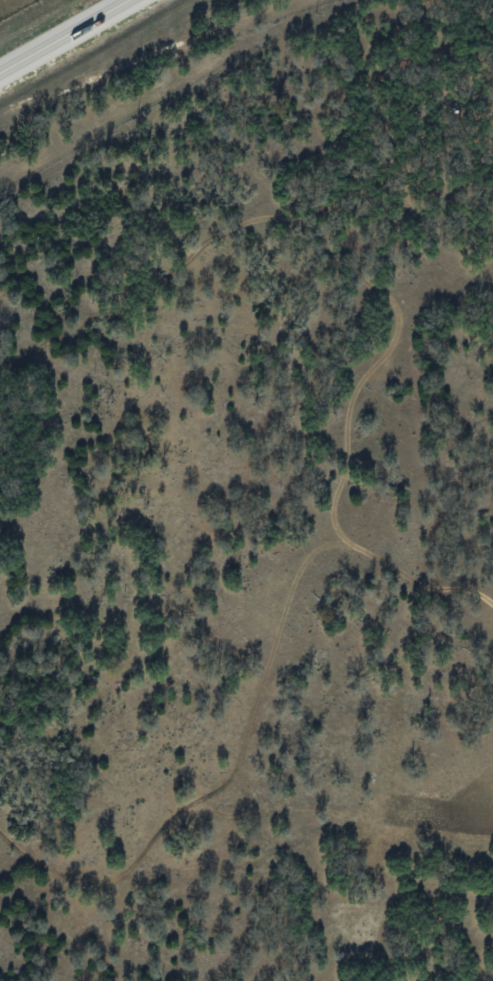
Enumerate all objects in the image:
road: (63, 35)

